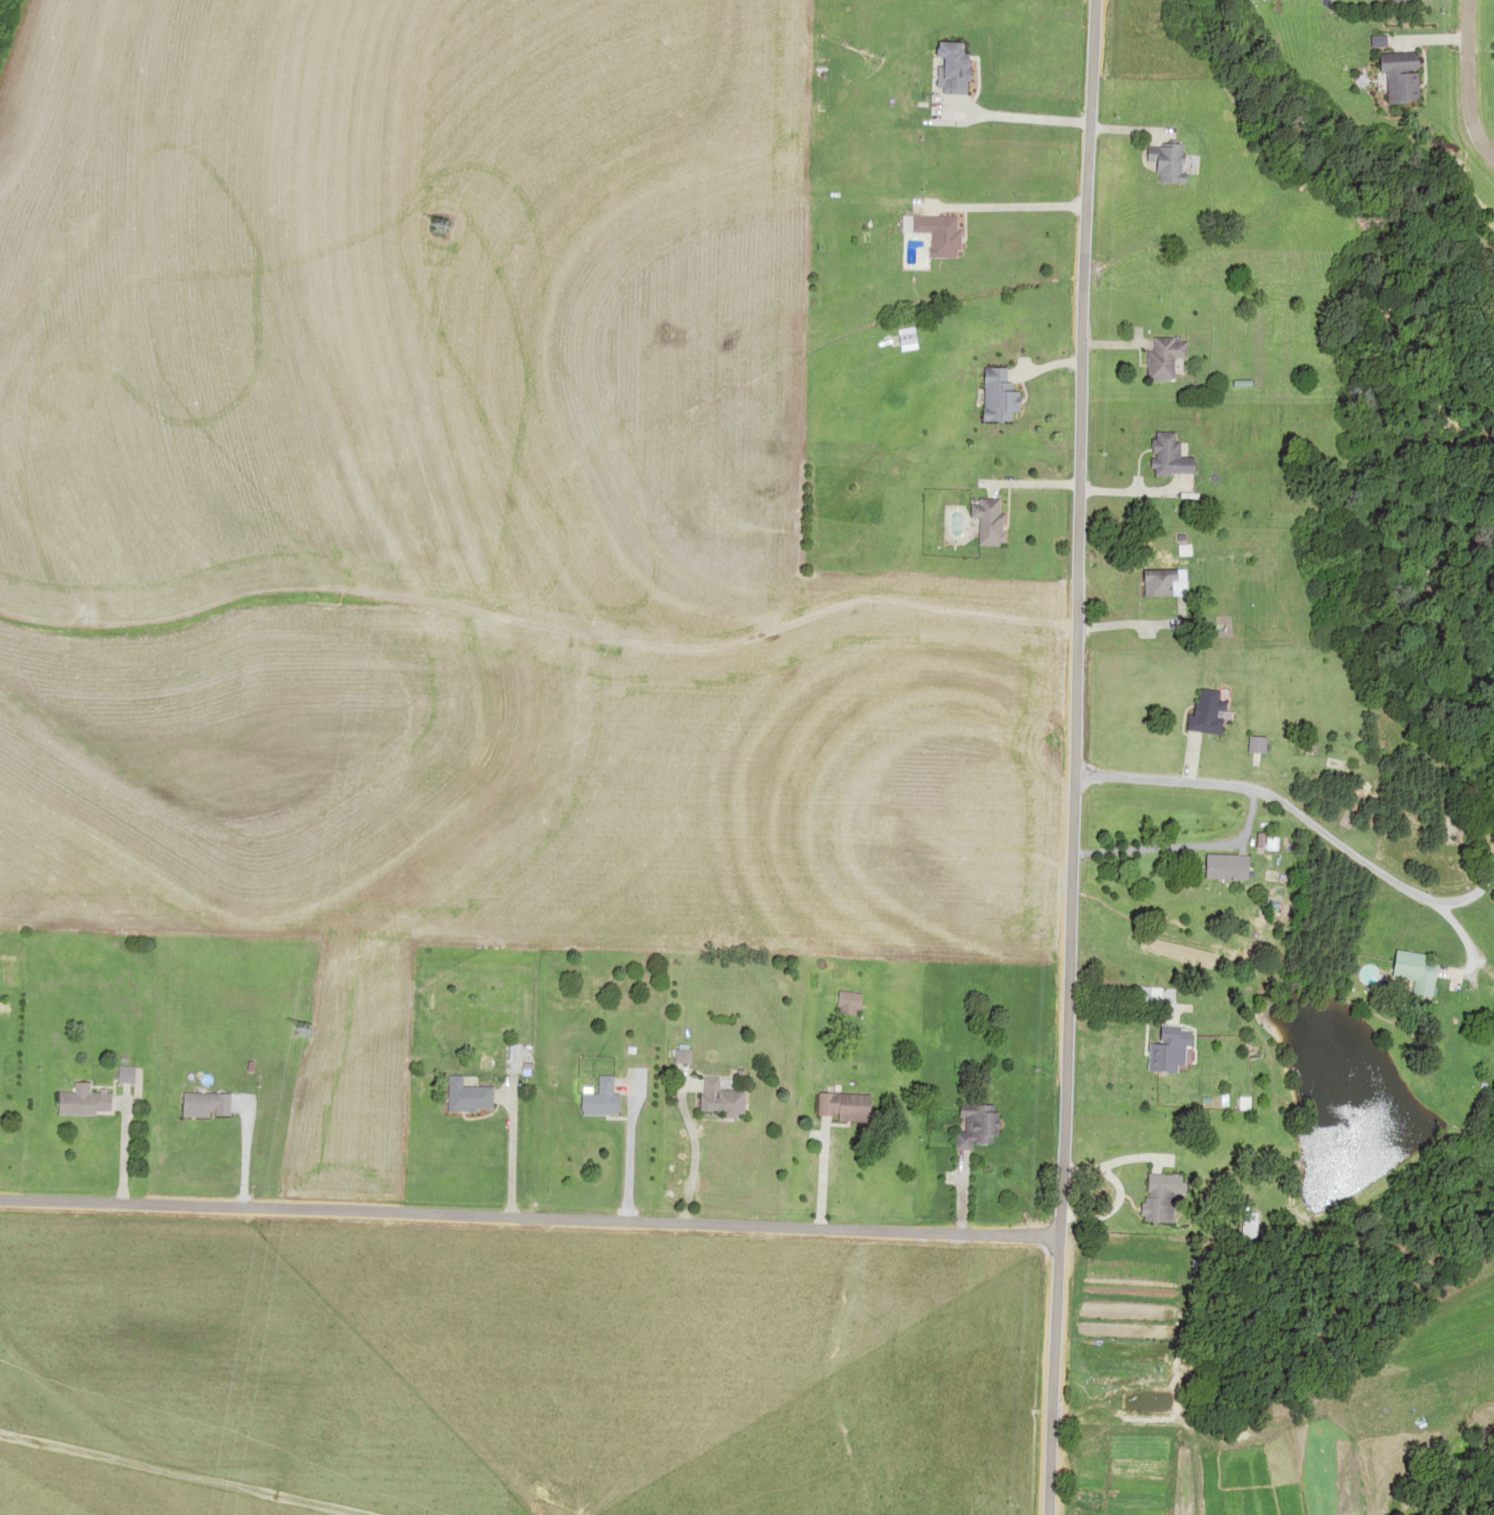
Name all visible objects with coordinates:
building: (1390, 3)
building: (948, 68)
building: (1392, 76)
building: (1164, 161)
building: (939, 233)
building: (1165, 357)
building: (996, 395)
building: (1167, 455)
building: (985, 520)
building: (1159, 582)
building: (1203, 711)
building: (1251, 744)
road: (1081, 757)
road: (1218, 850)
building: (1220, 865)
building: (1408, 969)
building: (846, 1001)
building: (1162, 1049)
building: (678, 1054)
building: (121, 1075)
building: (465, 1096)
building: (598, 1098)
building: (717, 1098)
building: (80, 1101)
building: (202, 1104)
building: (841, 1106)
building: (973, 1128)
building: (1151, 1196)
road: (1236, 1201)
power tower: (254, 1222)
road: (531, 1234)

